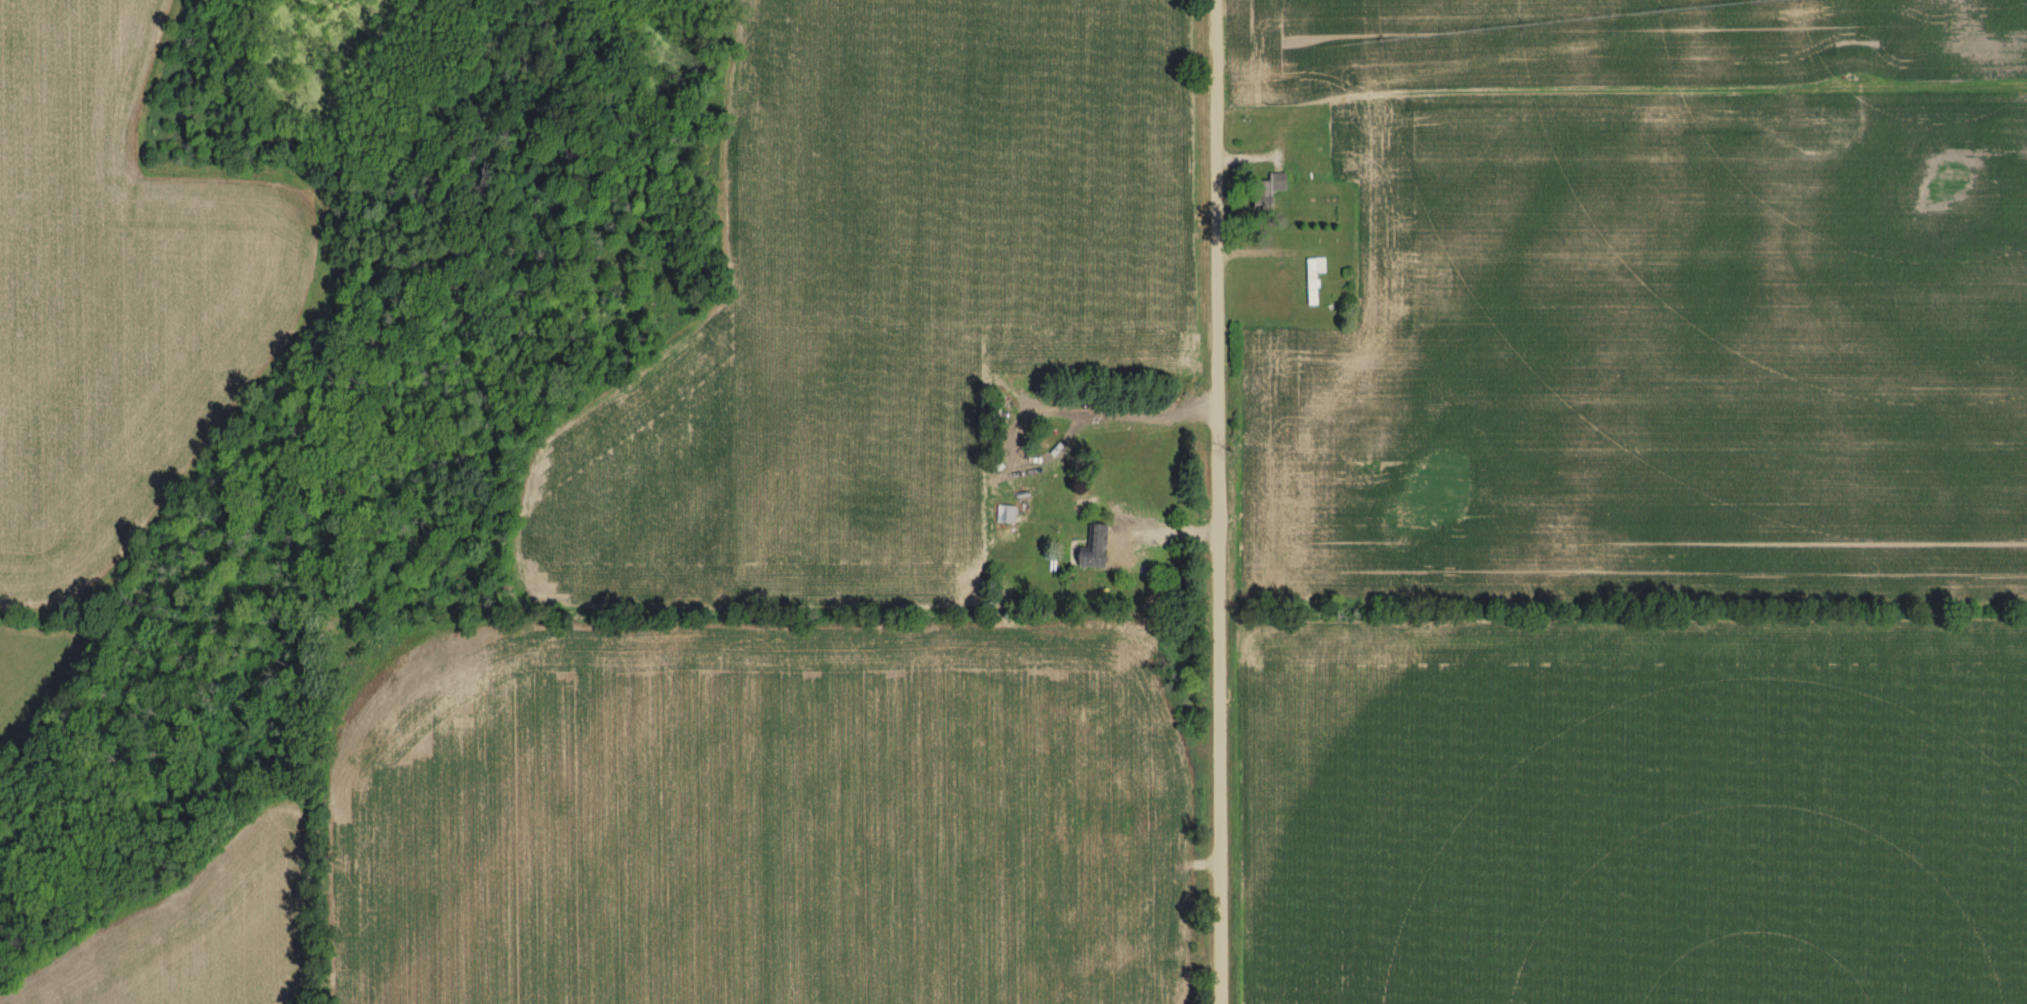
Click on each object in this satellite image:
building: (1264, 192)
building: (1311, 281)
road: (1055, 409)
road: (1217, 502)
building: (1004, 516)
building: (1091, 549)
building: (1128, 918)
building: (1087, 965)

